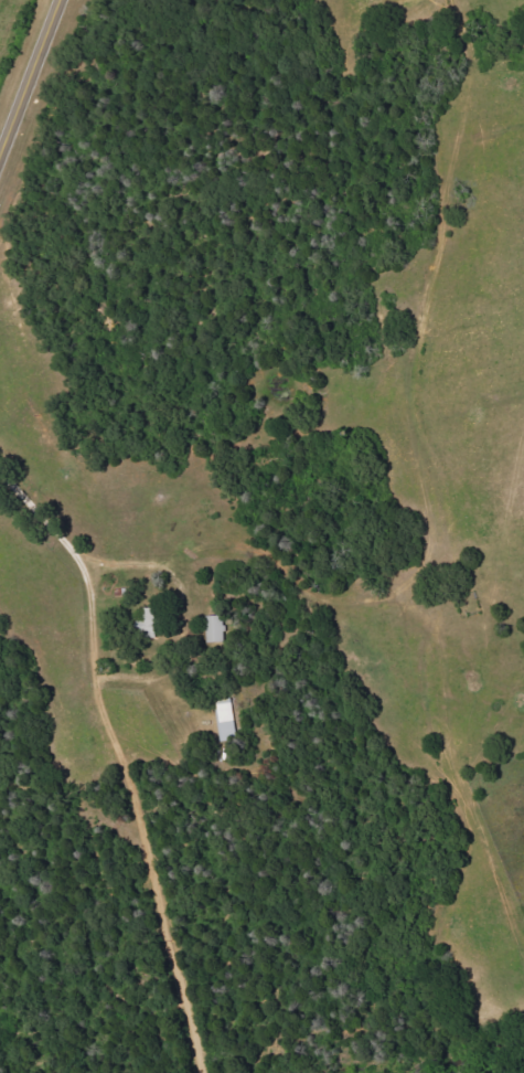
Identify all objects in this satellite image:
road: (29, 77)
road: (180, 623)
building: (150, 624)
building: (217, 628)
building: (226, 719)
road: (117, 761)

